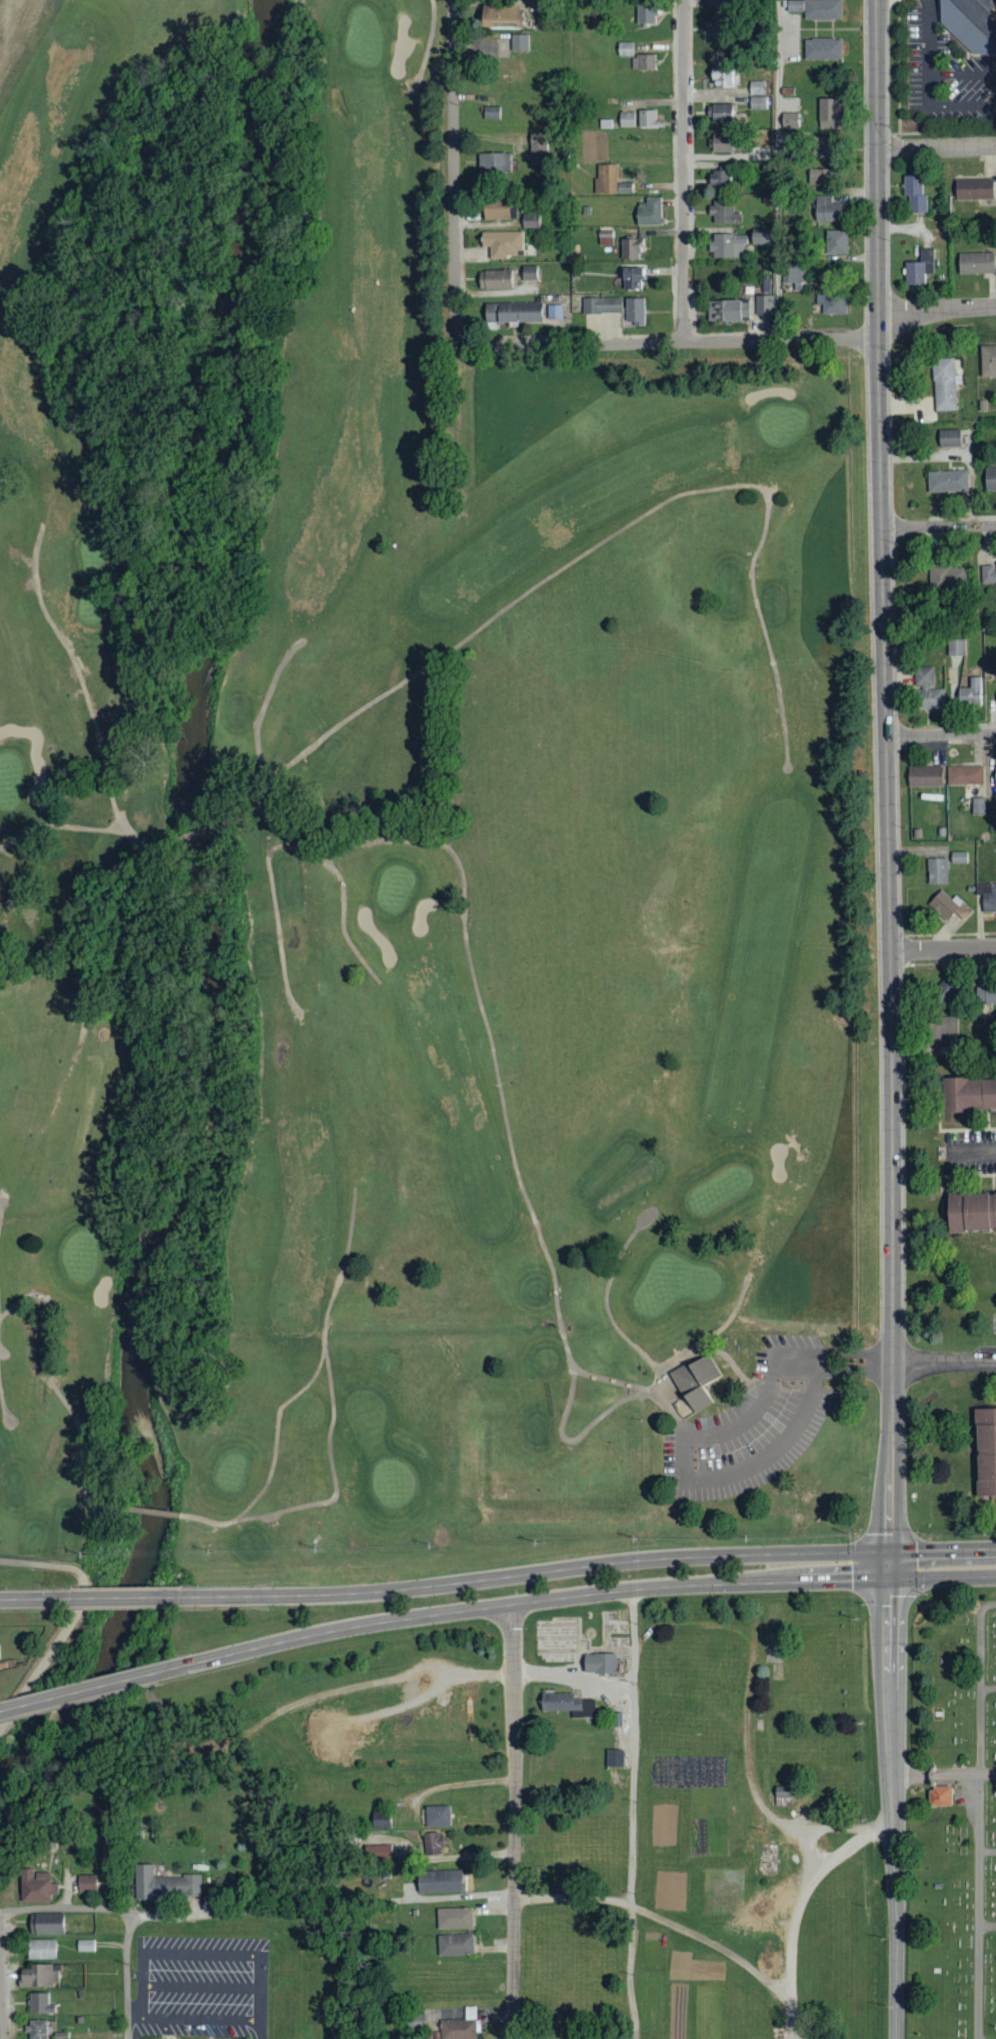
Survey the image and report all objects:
building: (985, 1)
building: (794, 6)
building: (822, 10)
building: (645, 14)
building: (498, 18)
building: (968, 25)
road: (12, 37)
road: (928, 37)
building: (512, 43)
road: (429, 45)
building: (624, 49)
building: (822, 49)
building: (642, 63)
road: (962, 75)
building: (724, 80)
building: (757, 95)
road: (947, 105)
building: (722, 113)
building: (827, 113)
building: (626, 120)
building: (790, 120)
building: (721, 144)
building: (824, 145)
road: (937, 148)
building: (537, 149)
building: (493, 164)
road: (455, 169)
road: (779, 169)
road: (683, 171)
building: (817, 177)
building: (606, 179)
building: (719, 181)
building: (974, 189)
building: (914, 194)
building: (494, 210)
building: (829, 211)
building: (724, 212)
building: (649, 213)
building: (759, 239)
building: (836, 243)
building: (503, 244)
building: (728, 246)
building: (631, 250)
building: (976, 264)
building: (919, 268)
building: (528, 273)
building: (632, 279)
building: (494, 280)
building: (832, 304)
building: (764, 306)
road: (937, 307)
building: (728, 311)
building: (634, 312)
building: (553, 313)
building: (600, 313)
building: (510, 314)
road: (671, 343)
building: (988, 360)
building: (944, 384)
building: (949, 438)
building: (990, 478)
building: (947, 481)
road: (939, 527)
road: (597, 547)
building: (988, 574)
building: (947, 577)
building: (956, 647)
building: (927, 690)
building: (970, 692)
road: (263, 706)
road: (97, 732)
road: (941, 734)
building: (964, 775)
building: (924, 776)
building: (994, 776)
road: (887, 782)
building: (978, 805)
road: (190, 834)
road: (136, 843)
park: (405, 850)
building: (959, 857)
road: (109, 867)
building: (936, 870)
road: (303, 880)
building: (989, 898)
road: (273, 903)
building: (948, 905)
road: (463, 919)
river: (215, 932)
road: (943, 949)
building: (987, 994)
road: (84, 1013)
building: (941, 1030)
building: (968, 1094)
road: (971, 1151)
building: (971, 1210)
road: (620, 1255)
road: (332, 1298)
road: (699, 1344)
road: (675, 1354)
road: (570, 1358)
road: (835, 1359)
road: (944, 1361)
building: (697, 1380)
road: (58, 1390)
road: (4, 1397)
road: (595, 1398)
road: (672, 1408)
road: (575, 1442)
building: (984, 1450)
road: (333, 1476)
road: (695, 1479)
road: (151, 1509)
road: (943, 1563)
traffic signals: (890, 1565)
road: (536, 1572)
road: (700, 1585)
road: (117, 1598)
road: (26, 1599)
road: (991, 1607)
road: (76, 1619)
road: (344, 1629)
building: (598, 1663)
road: (573, 1673)
road: (989, 1688)
road: (91, 1689)
road: (749, 1699)
building: (567, 1704)
building: (614, 1758)
road: (944, 1775)
road: (464, 1782)
building: (781, 1791)
building: (940, 1794)
road: (894, 1802)
road: (631, 1814)
building: (437, 1815)
road: (515, 1822)
park: (952, 1822)
road: (981, 1822)
road: (838, 1823)
building: (431, 1843)
road: (988, 1851)
building: (377, 1852)
building: (438, 1880)
building: (86, 1883)
building: (164, 1884)
building: (35, 1885)
road: (796, 1906)
road: (164, 1911)
road: (124, 1914)
road: (661, 1915)
building: (454, 1917)
building: (45, 1923)
road: (988, 1926)
building: (455, 1944)
building: (85, 1945)
building: (41, 1949)
building: (41, 1975)
building: (40, 2003)
road: (189, 2011)
road: (0, 2023)
road: (261, 2023)
building: (460, 2026)
building: (37, 2029)

